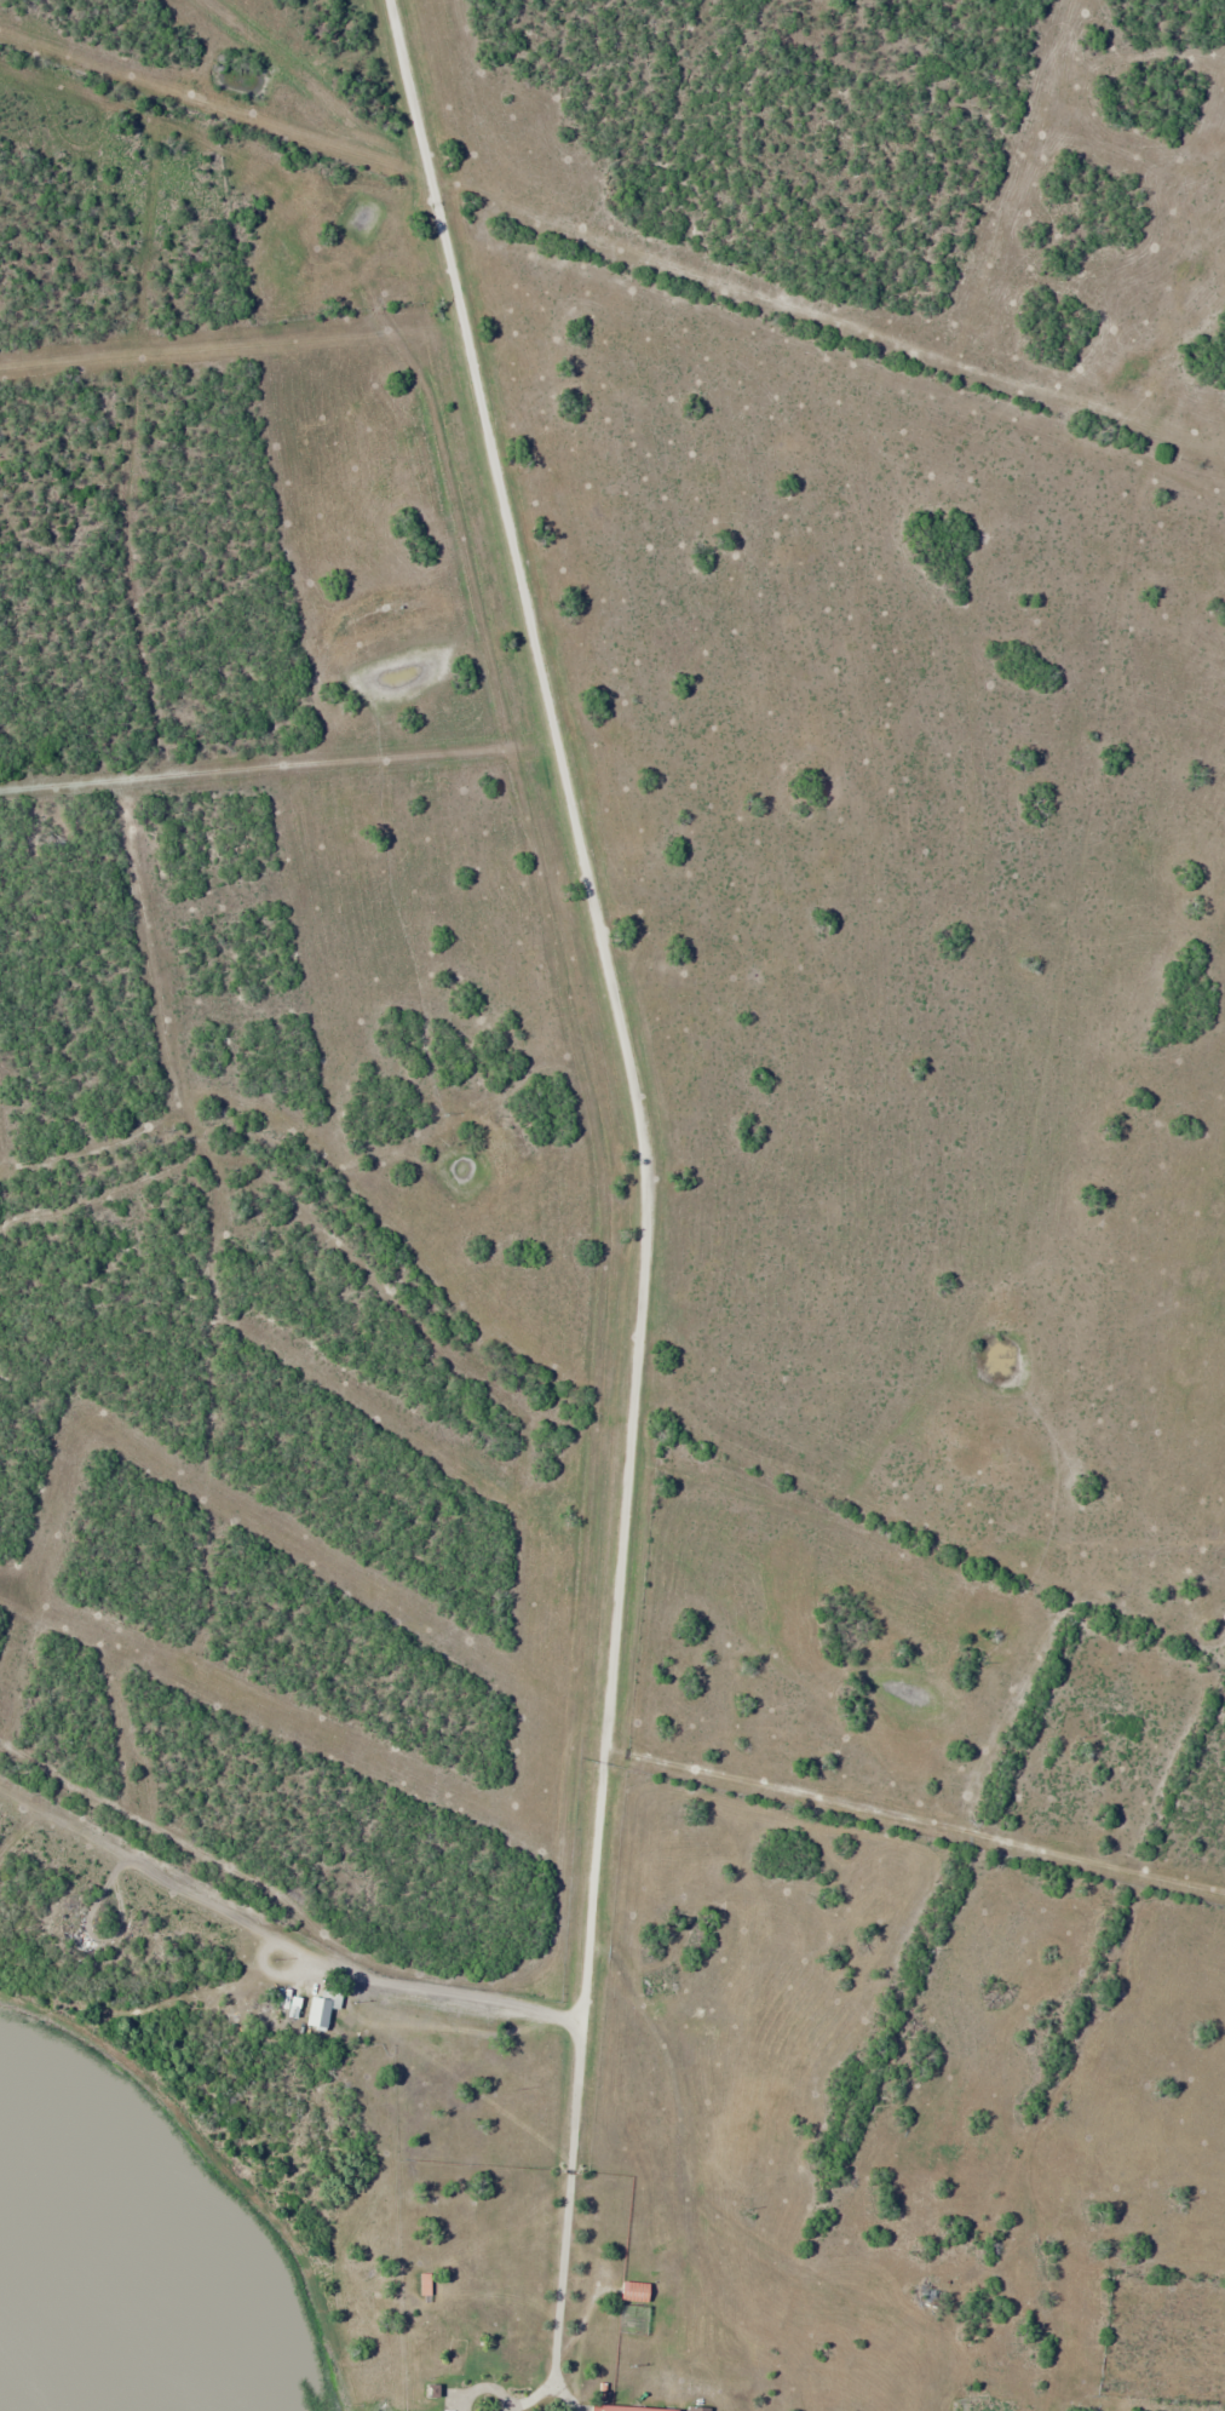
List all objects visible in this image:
road: (665, 1193)
building: (326, 2009)
building: (637, 2292)
building: (462, 2313)
building: (522, 2367)
building: (478, 2396)
building: (780, 2404)
building: (698, 2409)

